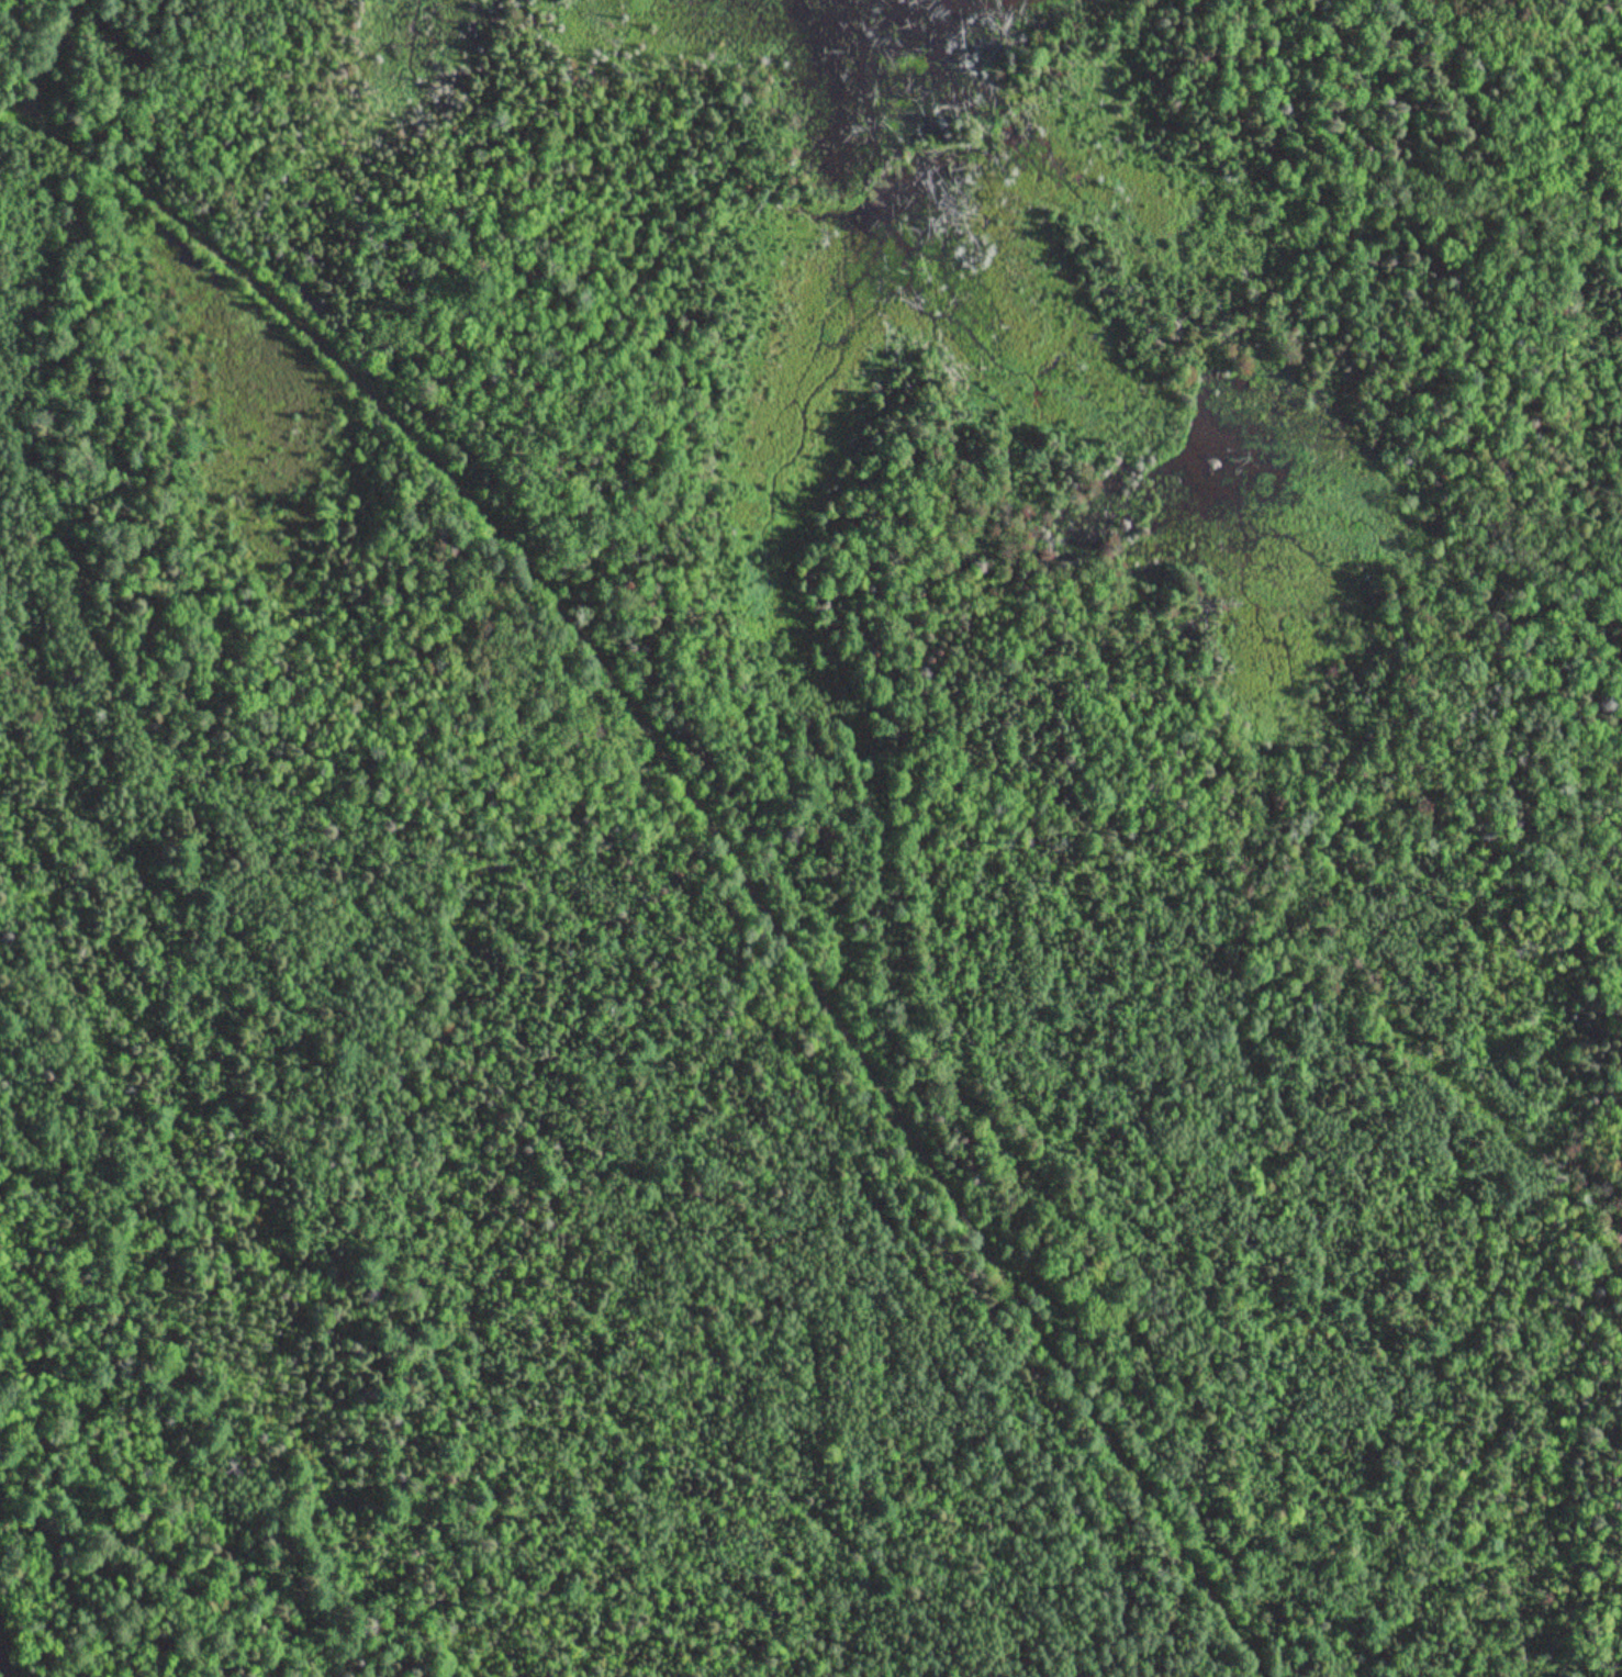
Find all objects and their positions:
river: (1, 1670)

